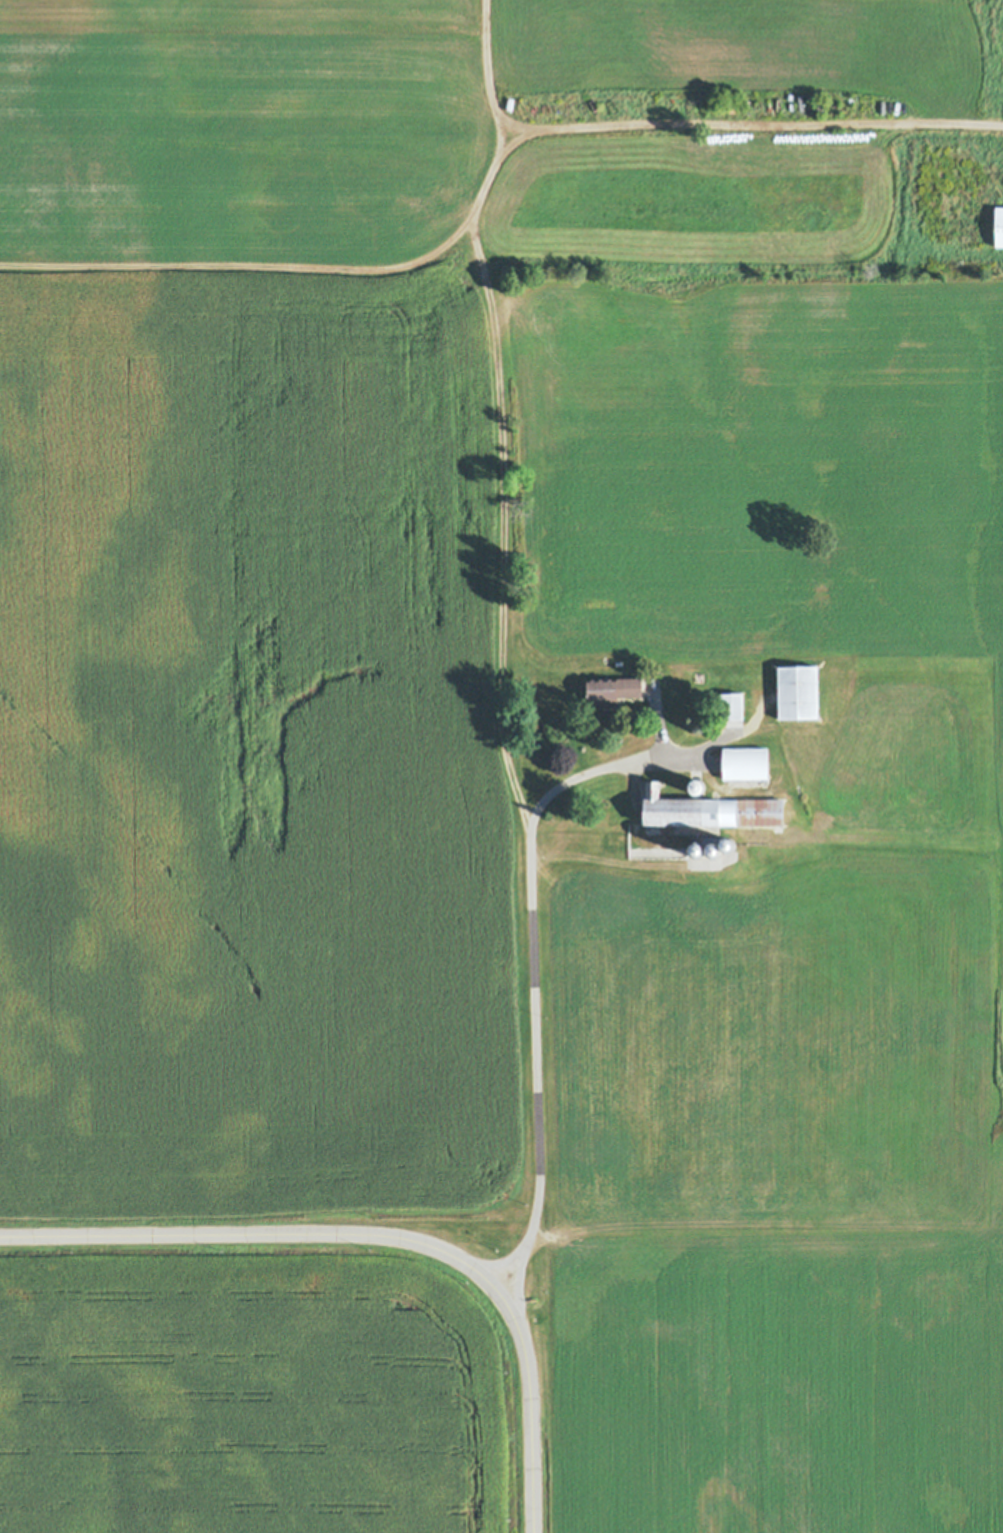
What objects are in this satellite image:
road: (762, 122)
building: (1001, 227)
road: (497, 397)
building: (619, 688)
building: (801, 692)
building: (750, 764)
building: (712, 810)
road: (533, 989)
road: (381, 1233)

